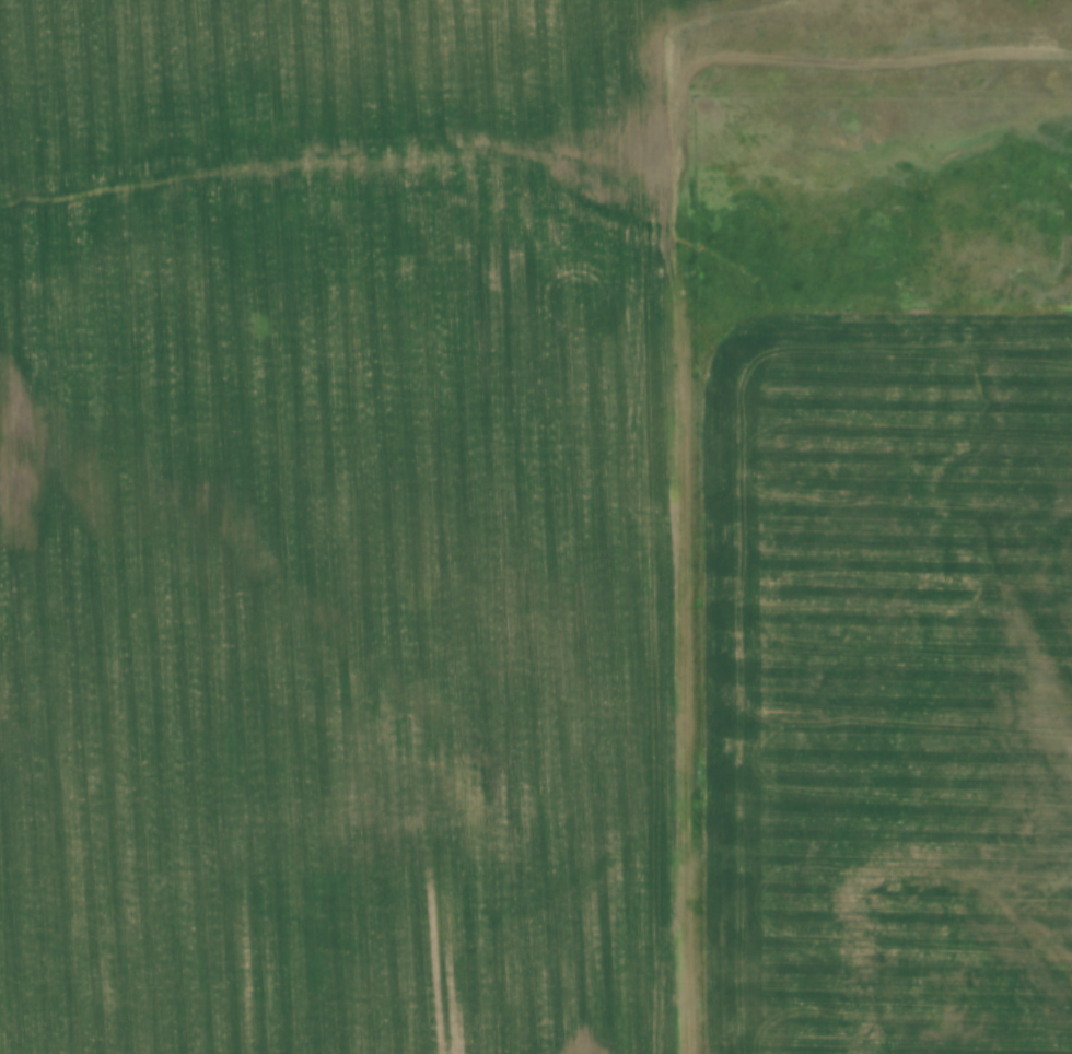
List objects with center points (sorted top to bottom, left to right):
road: (934, 59)
road: (692, 465)

